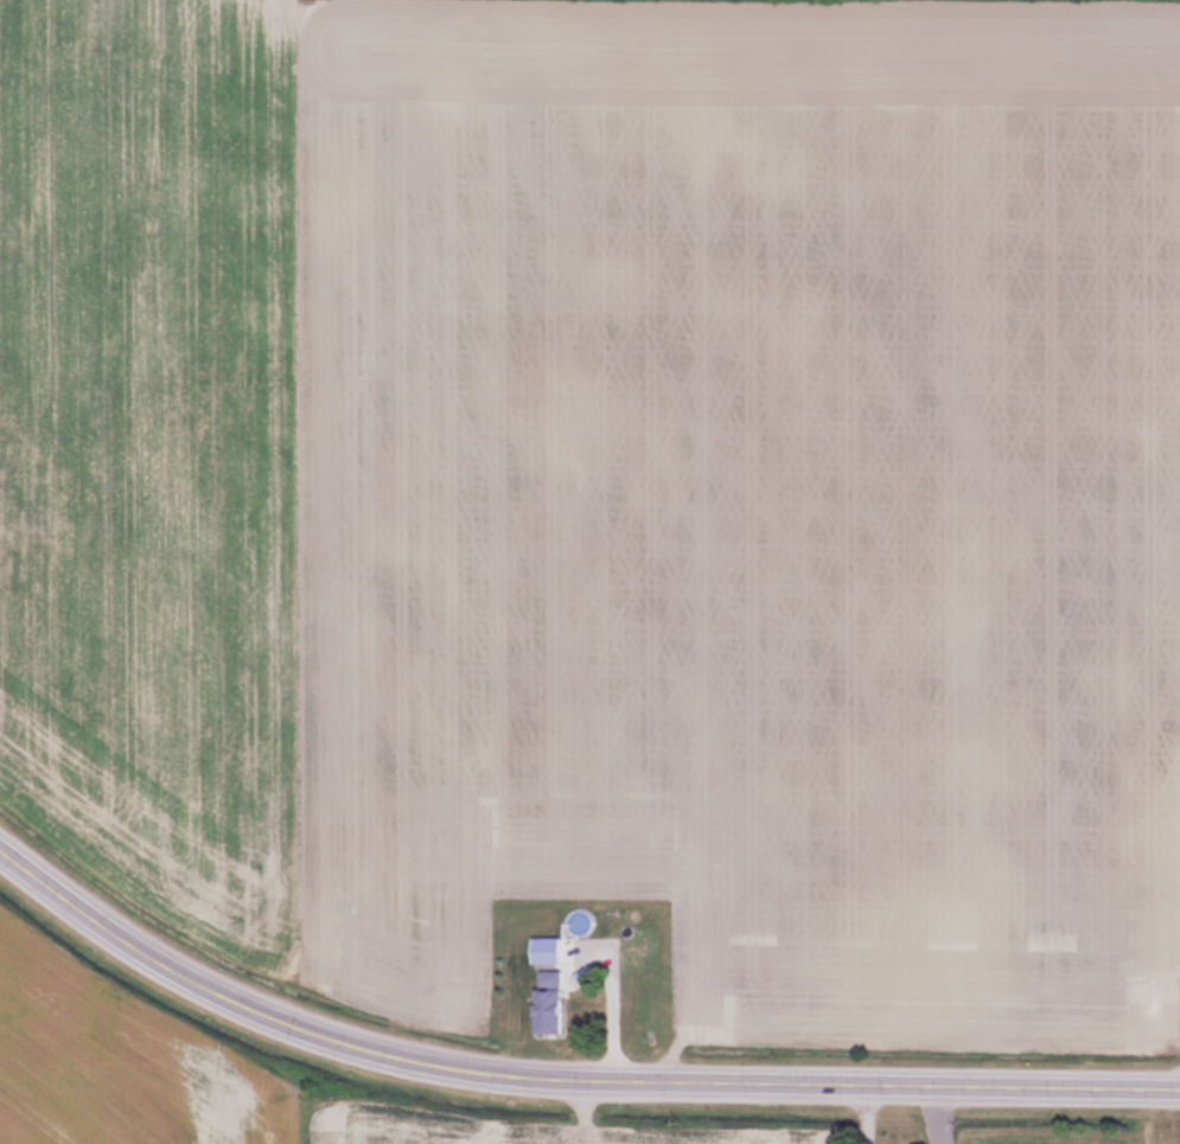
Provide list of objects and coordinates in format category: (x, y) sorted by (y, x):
building: (551, 1002)
road: (561, 1080)

